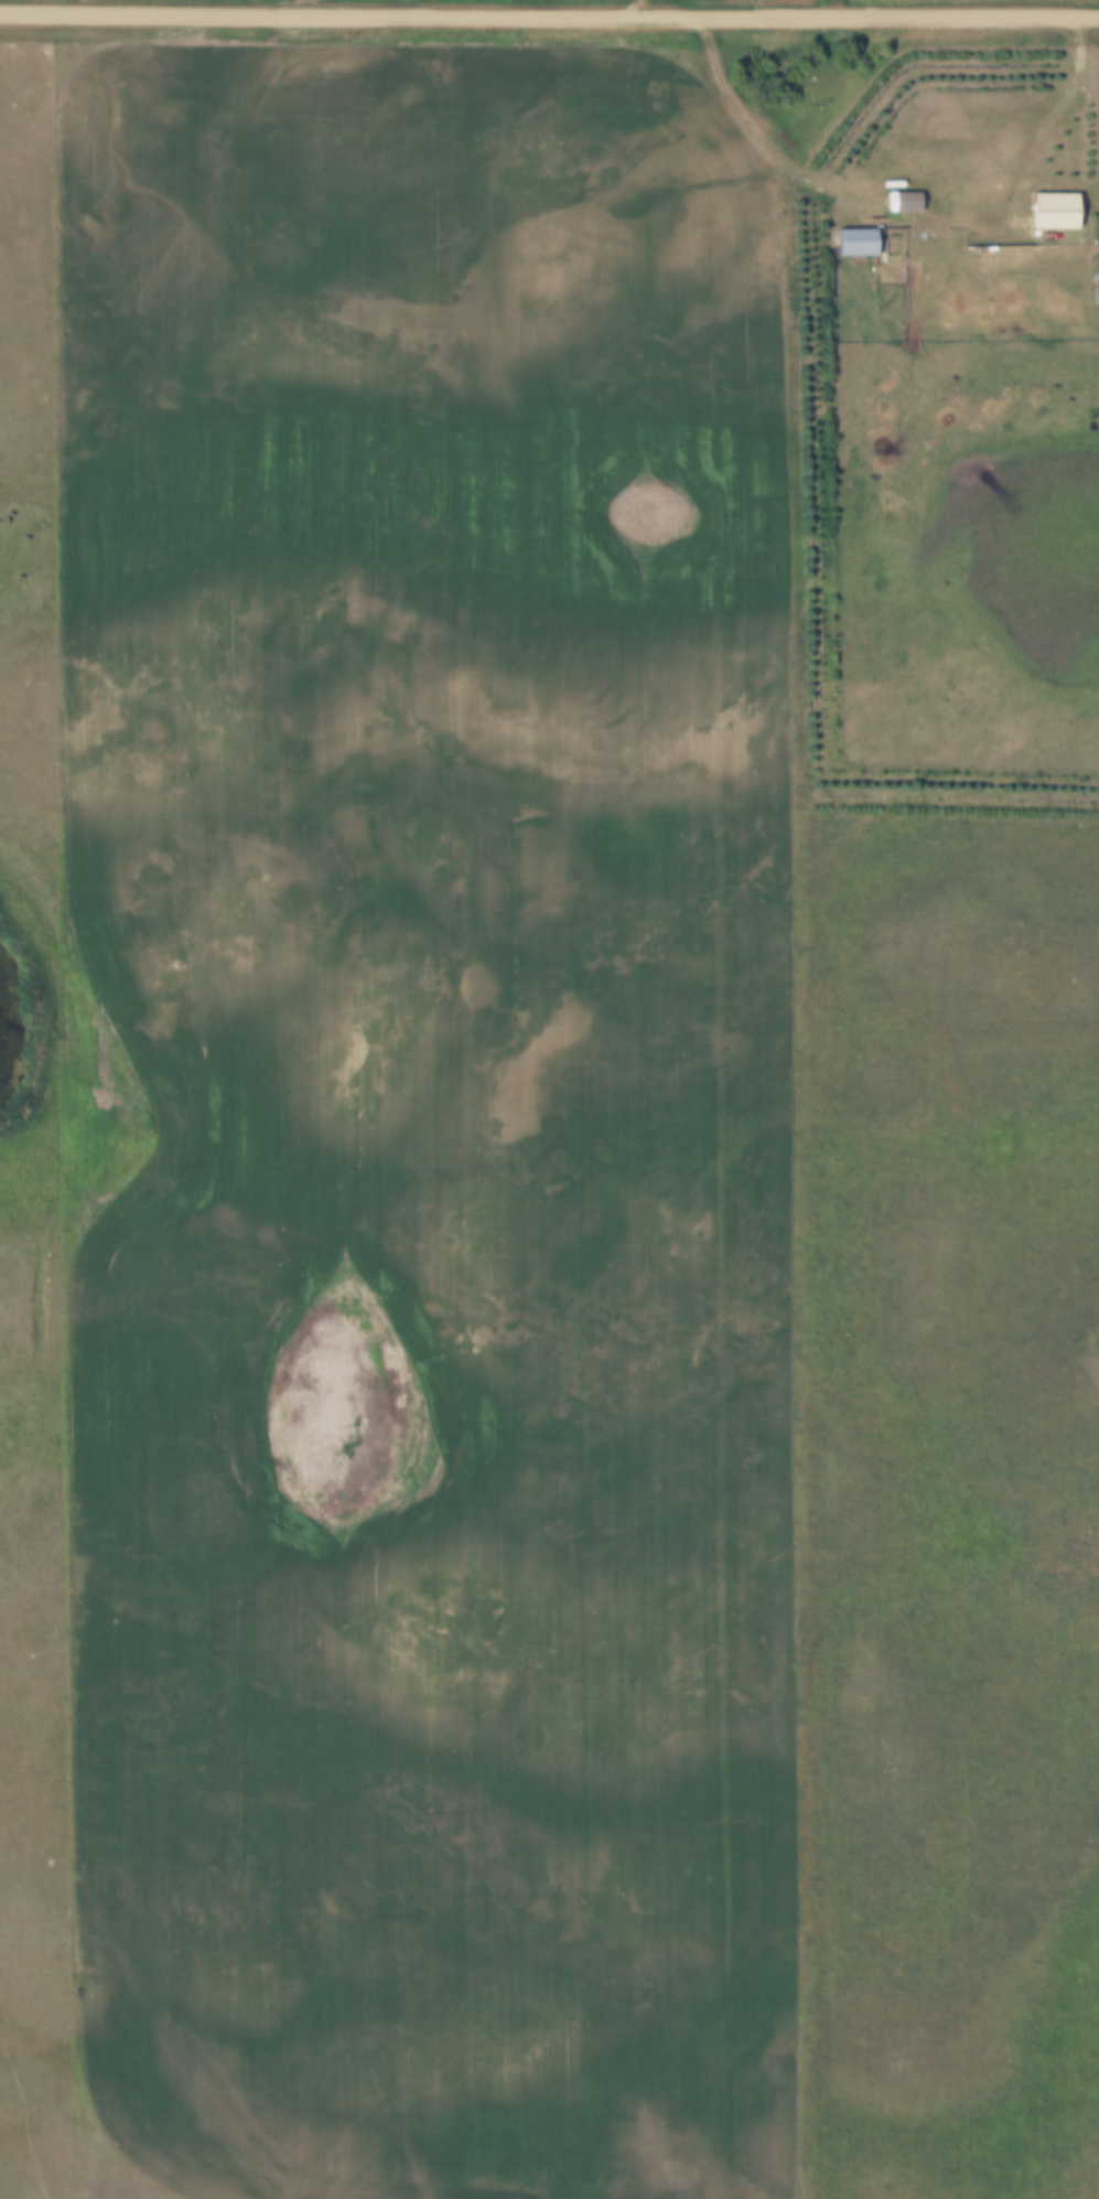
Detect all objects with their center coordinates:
road: (635, 7)
road: (549, 13)
building: (909, 204)
building: (859, 245)

